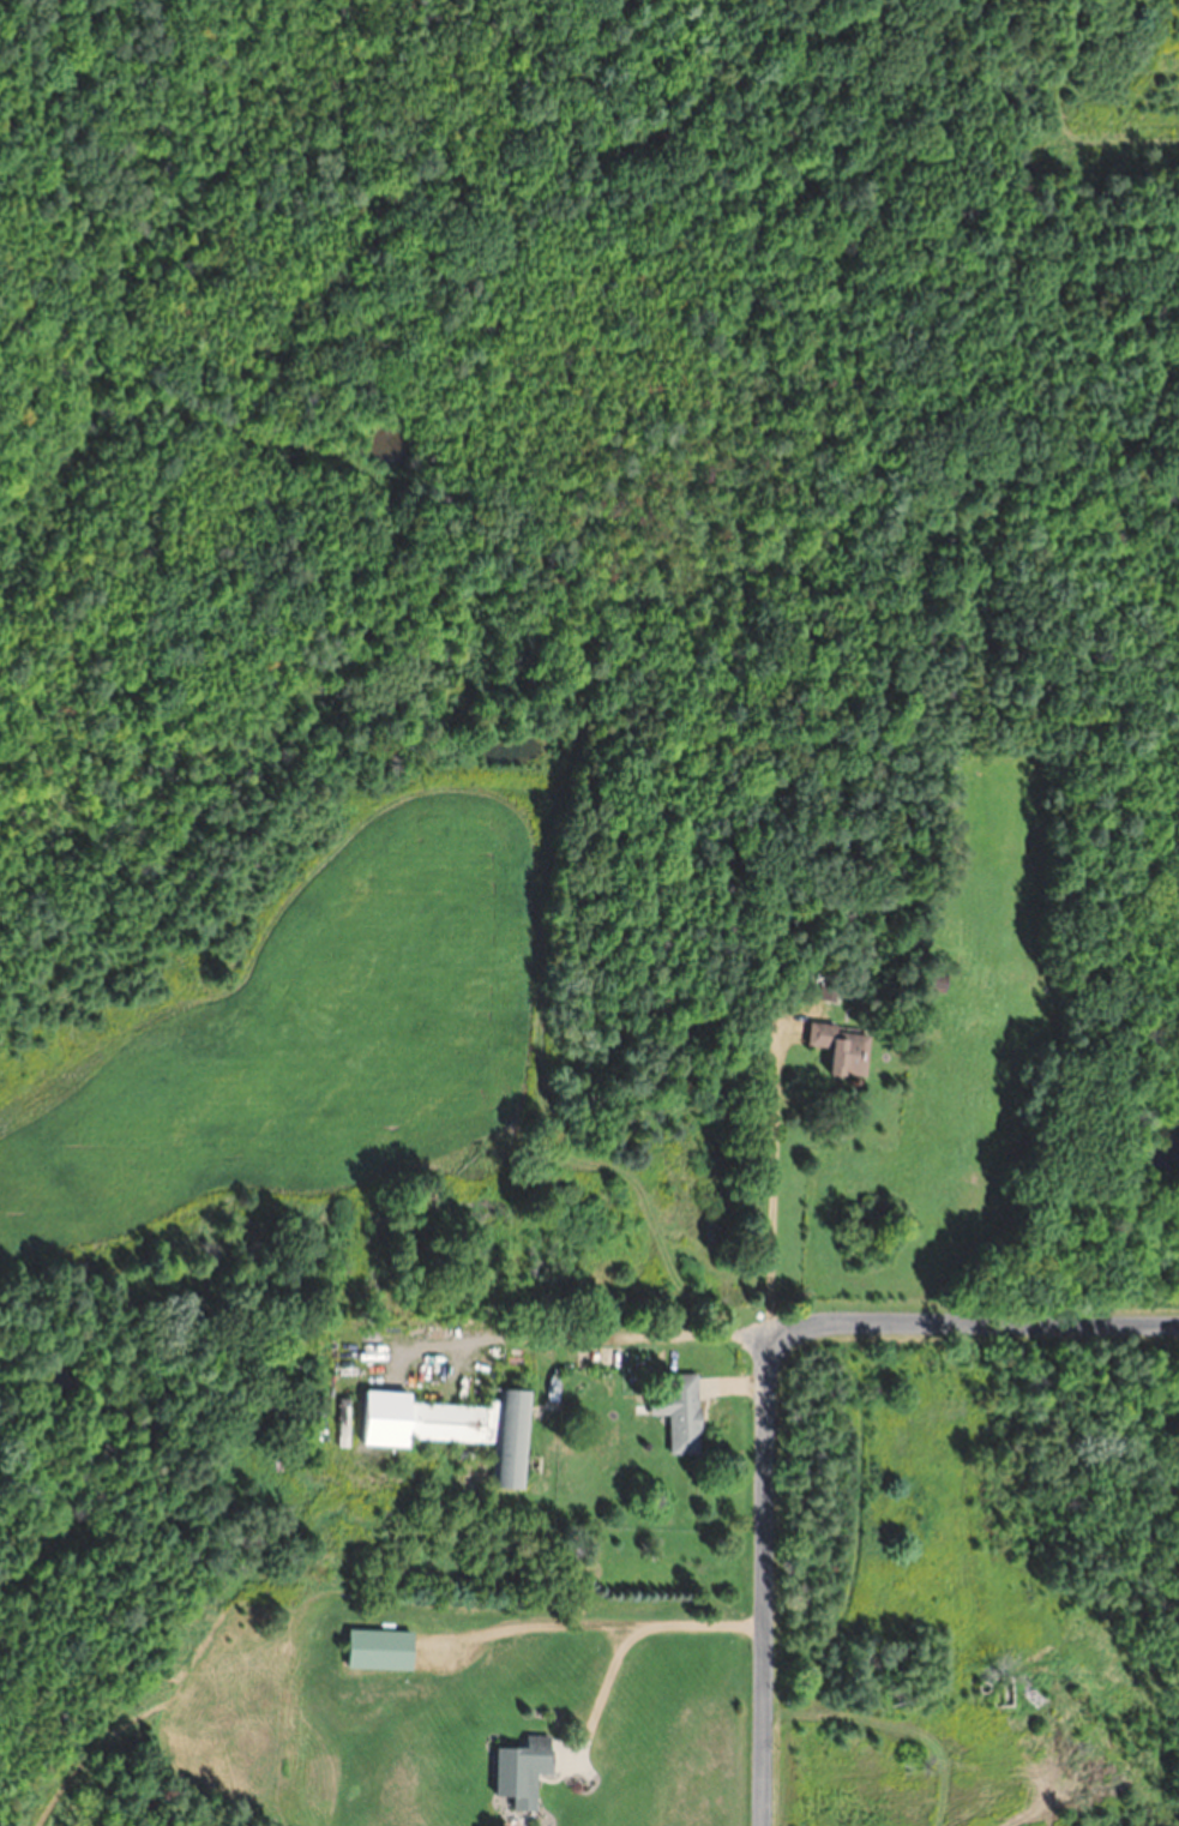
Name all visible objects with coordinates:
building: (844, 1049)
road: (764, 1377)
building: (682, 1413)
building: (458, 1428)
building: (384, 1650)
building: (1004, 1692)
building: (525, 1771)

